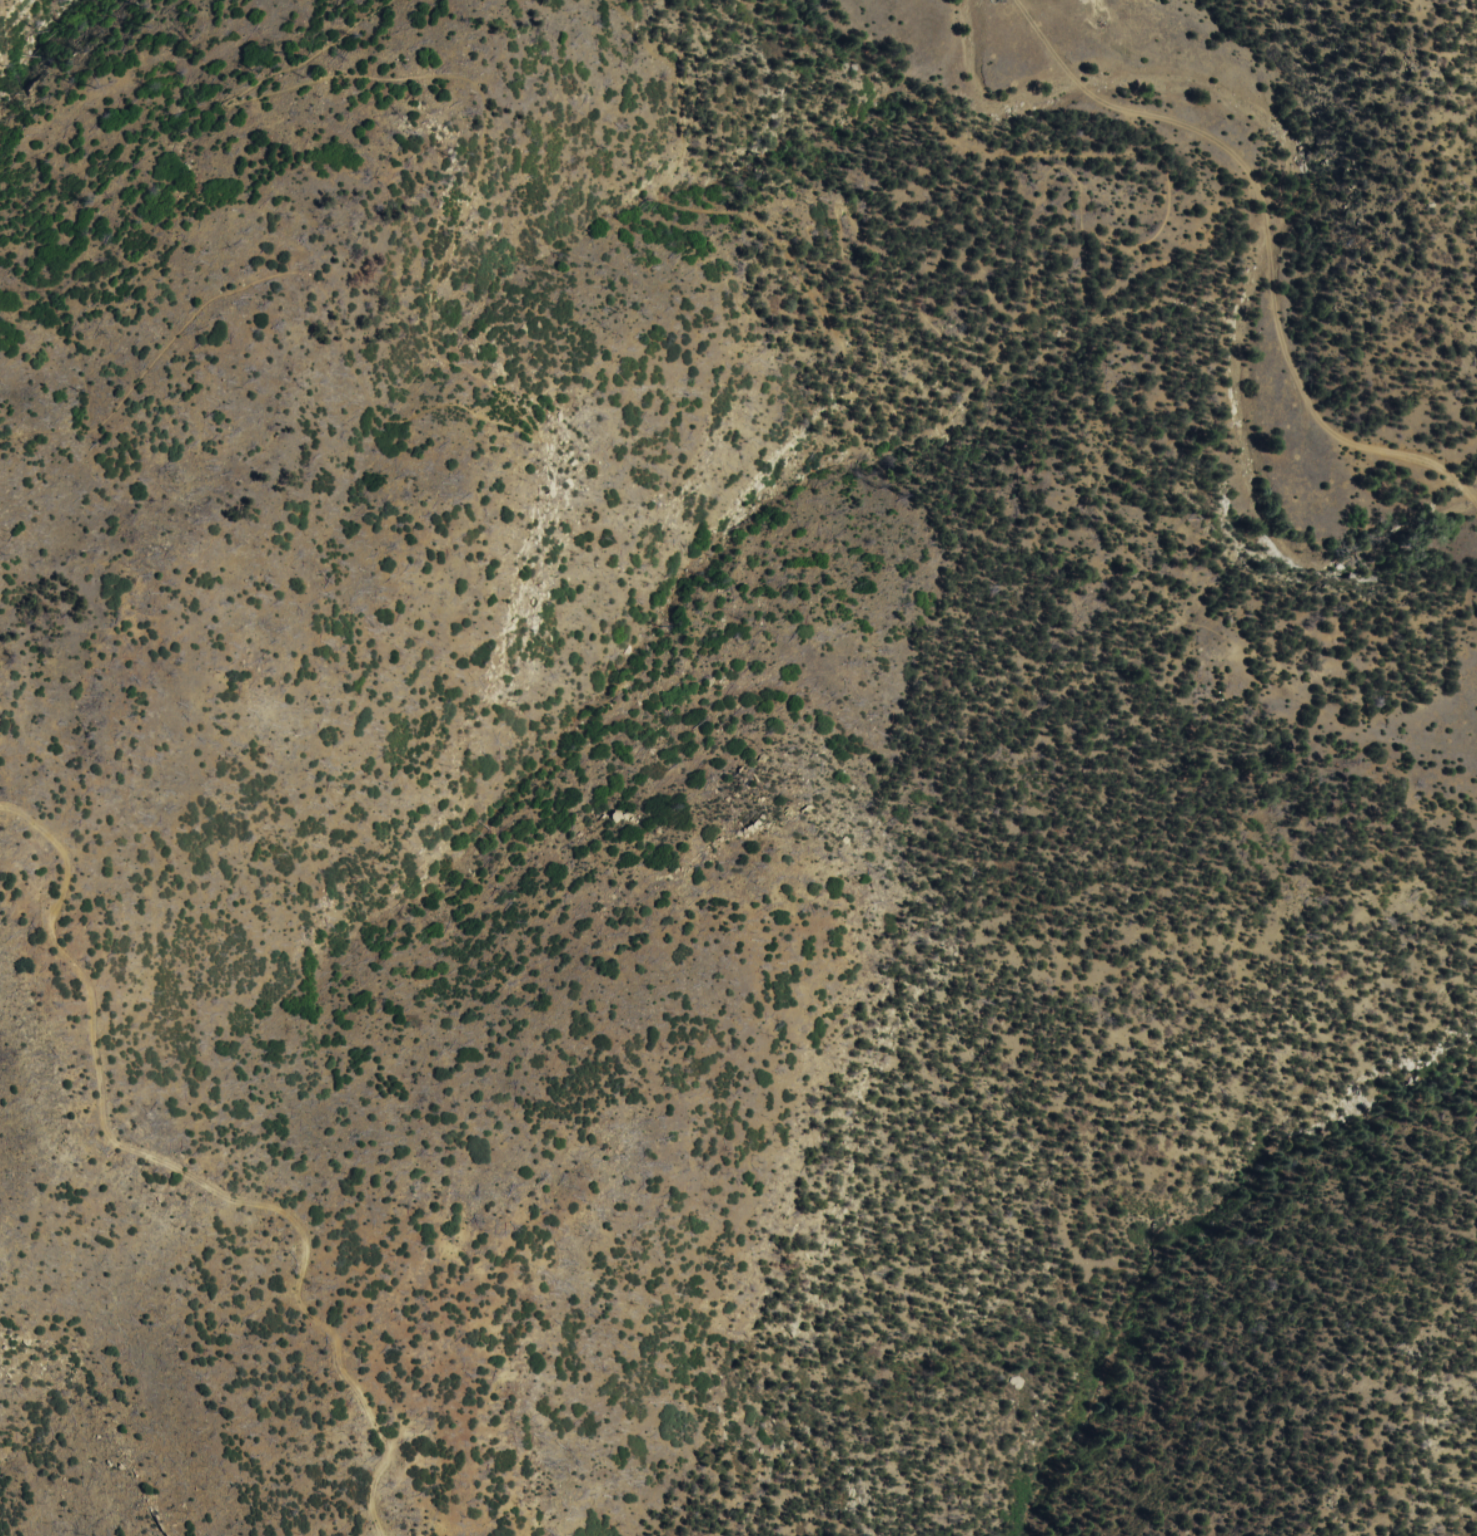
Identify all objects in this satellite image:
road: (1268, 245)
road: (902, 287)
road: (481, 379)
road: (189, 1173)

